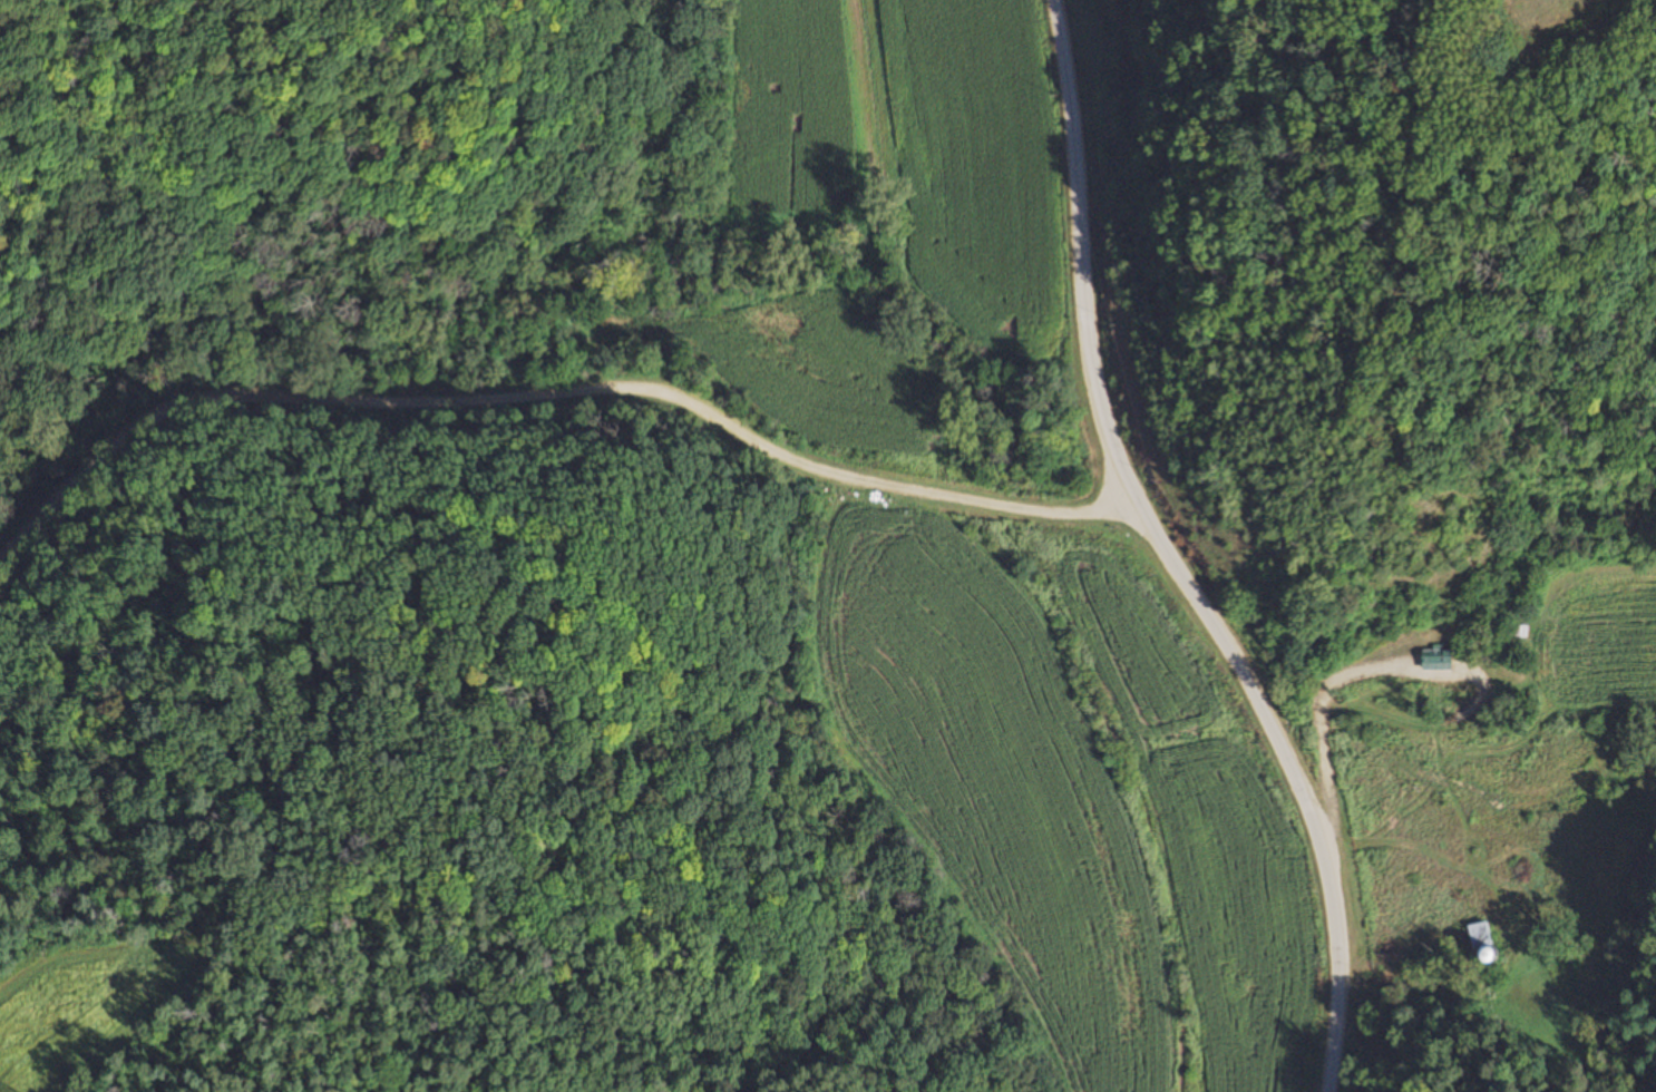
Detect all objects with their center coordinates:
road: (532, 457)
road: (1147, 552)
building: (1480, 942)

